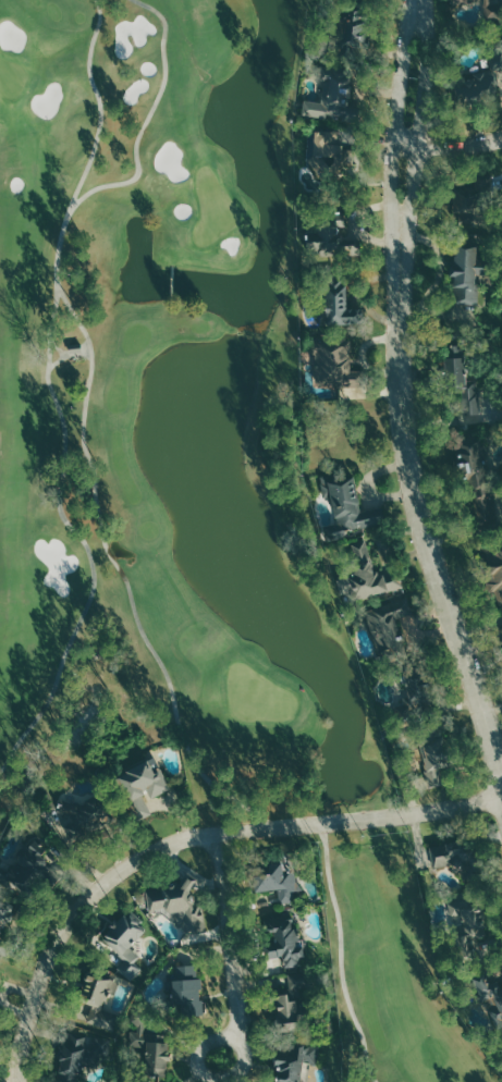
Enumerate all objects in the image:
building: (461, 1)
building: (488, 8)
building: (350, 32)
park: (11, 76)
building: (477, 85)
building: (330, 97)
road: (100, 108)
road: (146, 120)
road: (393, 135)
road: (417, 136)
building: (323, 145)
road: (448, 146)
building: (465, 201)
park: (212, 207)
building: (466, 272)
building: (336, 305)
road: (64, 354)
building: (333, 360)
building: (462, 383)
park: (188, 471)
building: (477, 477)
building: (348, 504)
road: (59, 505)
road: (421, 533)
building: (368, 574)
building: (494, 575)
building: (402, 689)
park: (256, 696)
road: (174, 715)
building: (436, 760)
building: (144, 785)
building: (82, 815)
road: (185, 836)
building: (453, 857)
building: (29, 861)
building: (277, 882)
building: (177, 903)
building: (1, 914)
building: (466, 927)
building: (125, 940)
building: (284, 944)
building: (187, 988)
road: (237, 1004)
building: (289, 1005)
building: (142, 1037)
building: (501, 1053)
building: (78, 1056)
building: (156, 1058)
building: (293, 1062)

